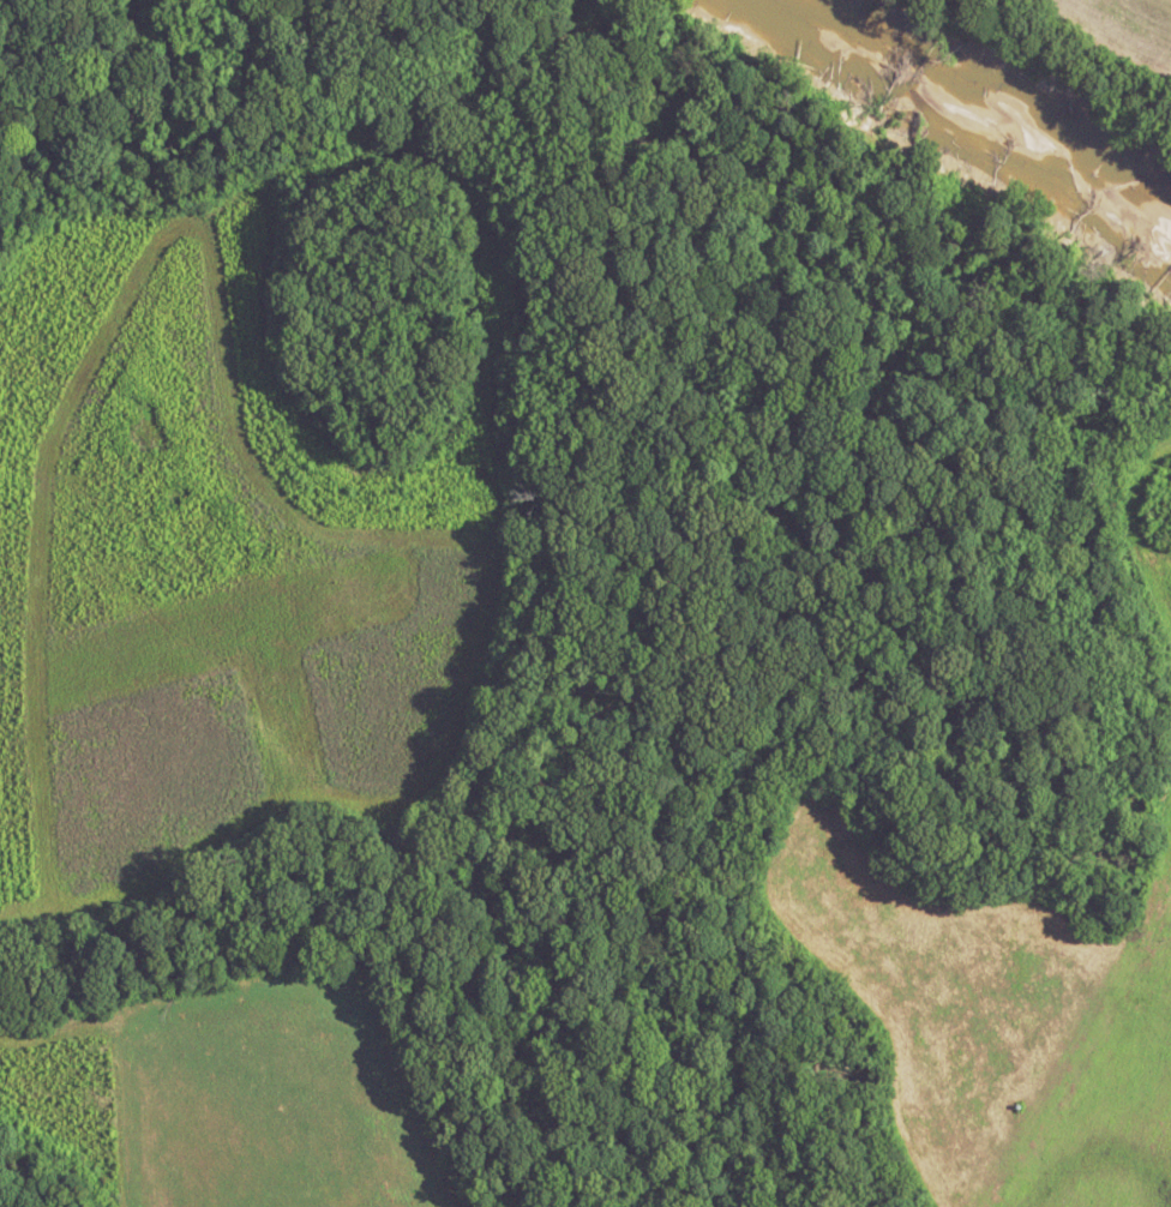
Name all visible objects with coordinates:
river: (973, 104)

